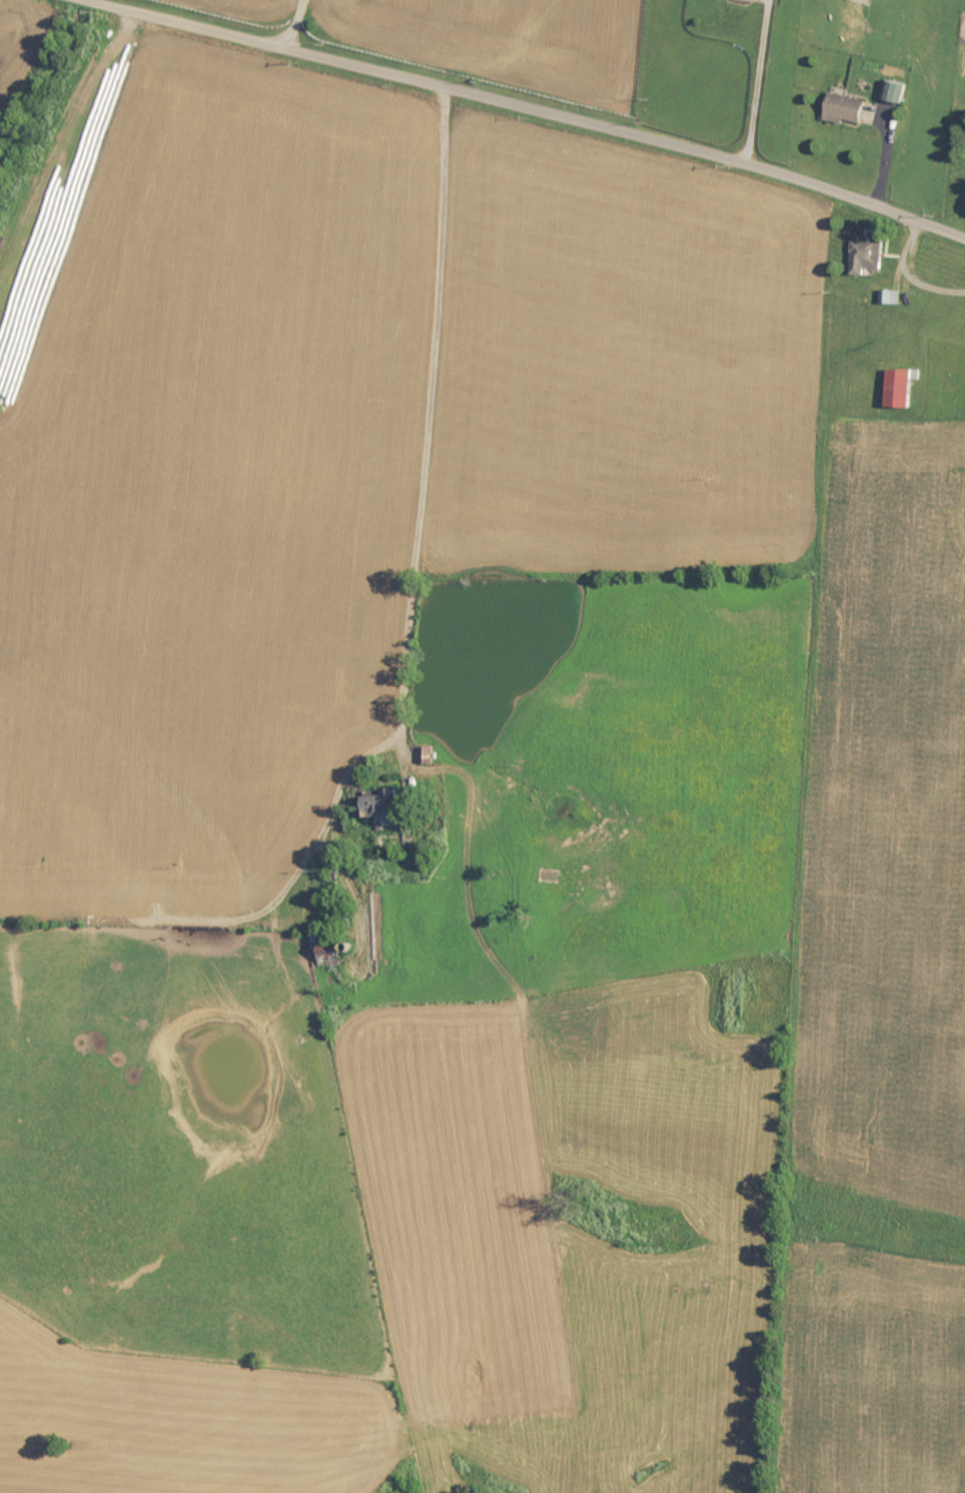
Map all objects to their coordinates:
road: (295, 23)
road: (760, 81)
building: (899, 92)
road: (535, 106)
building: (849, 110)
building: (871, 255)
road: (910, 274)
building: (893, 298)
building: (895, 388)
road: (431, 404)
building: (374, 804)

